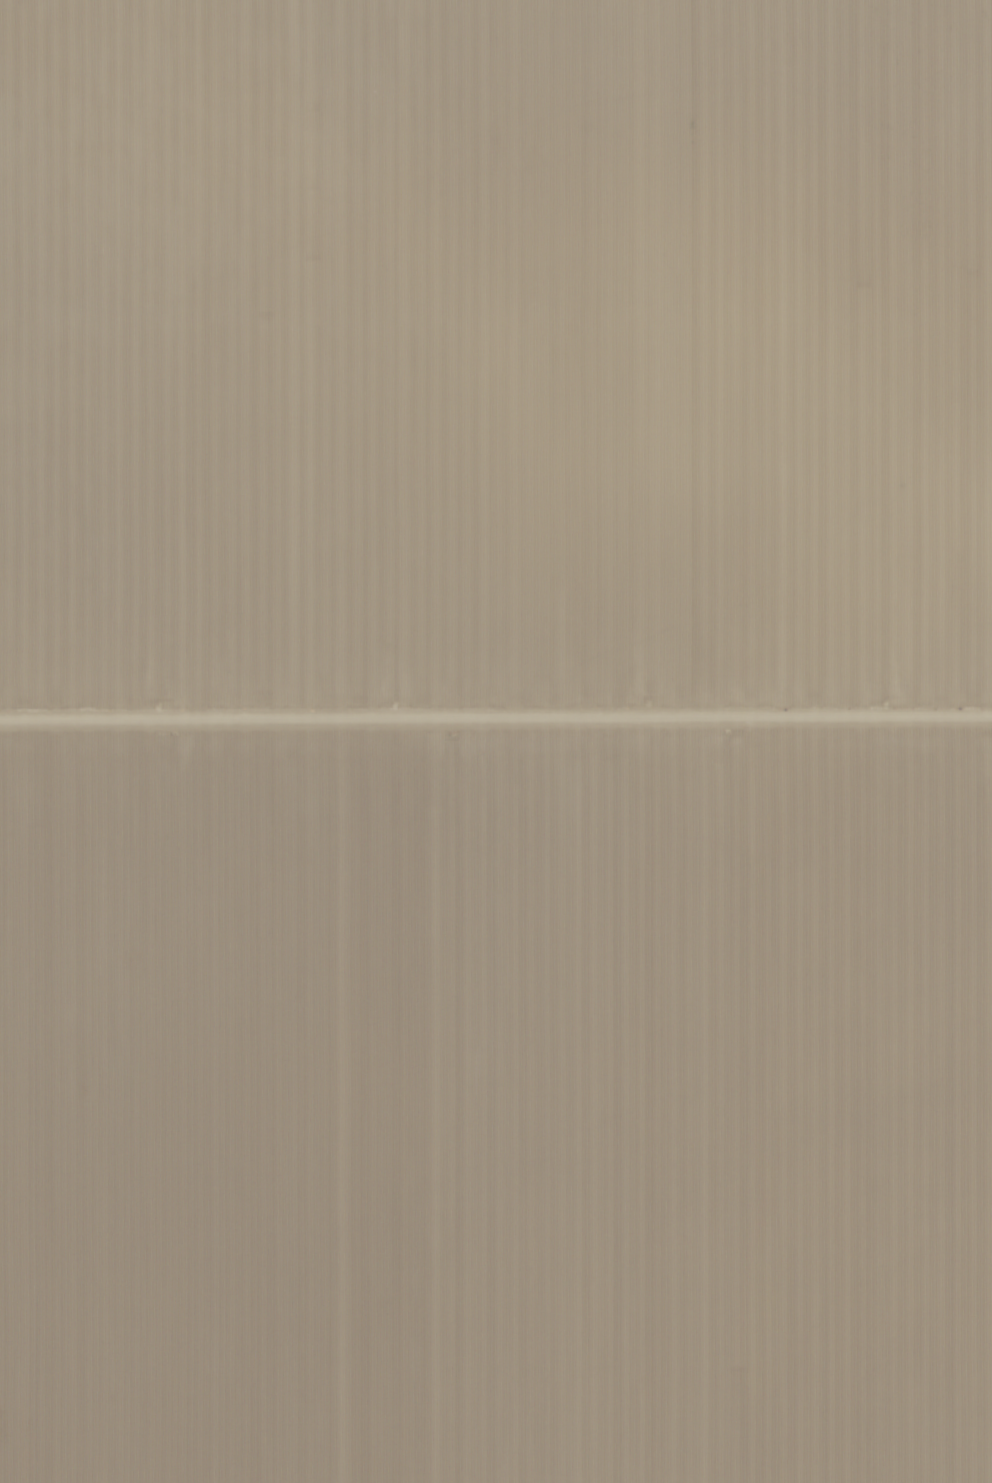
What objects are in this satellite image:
crop: (495, 361)
road: (496, 725)
crop: (496, 1103)

